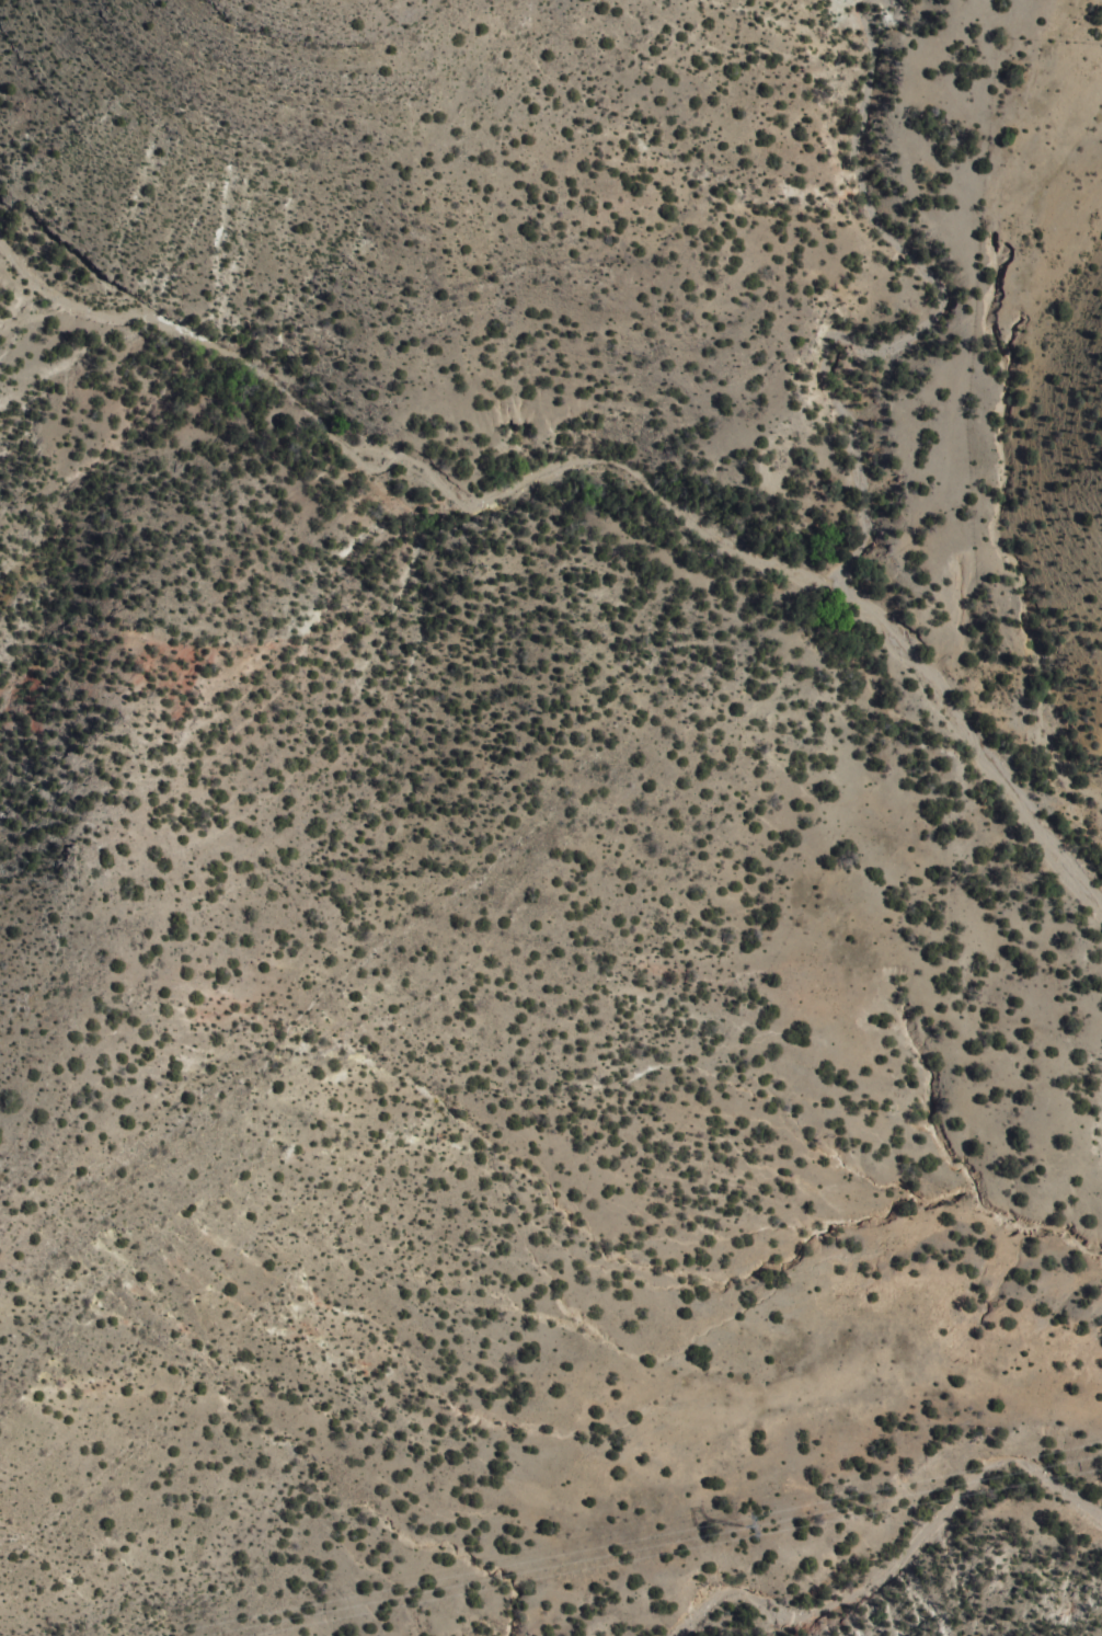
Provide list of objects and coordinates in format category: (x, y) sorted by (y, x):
power tower: (735, 1524)

